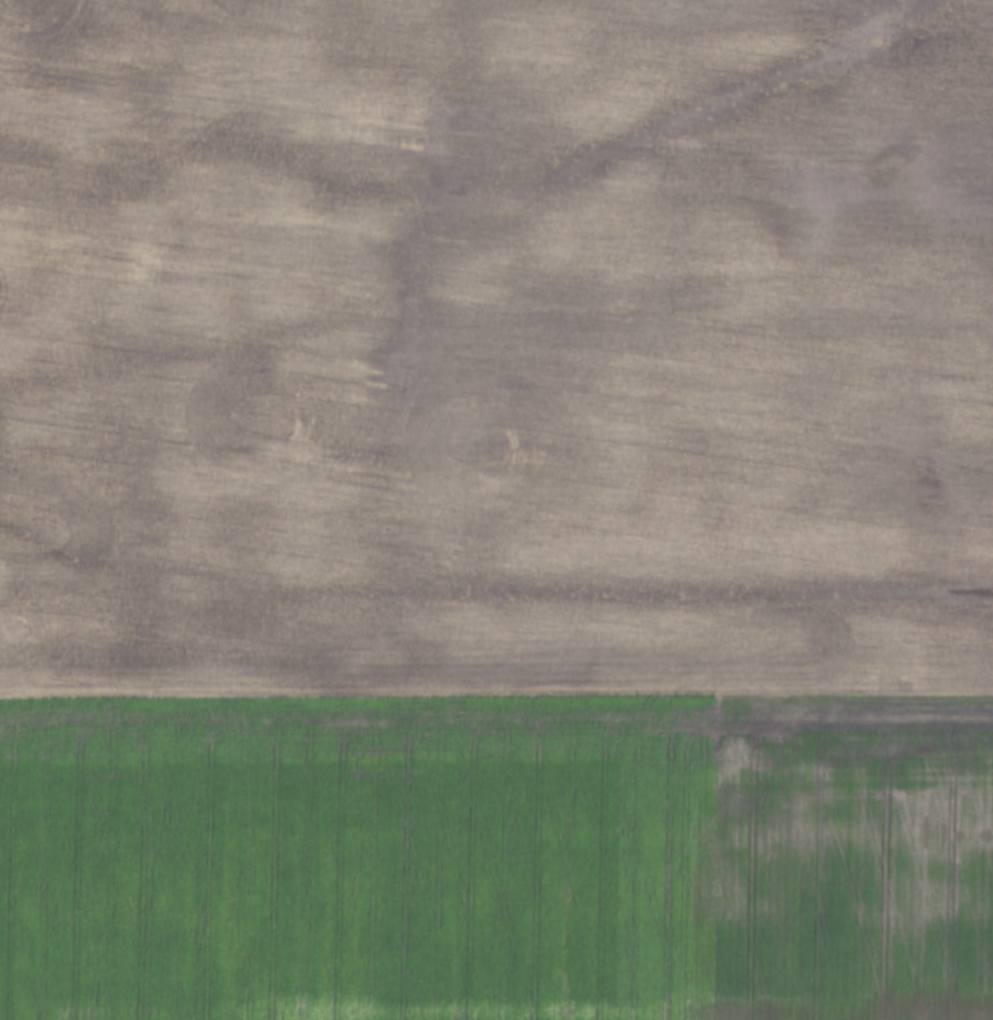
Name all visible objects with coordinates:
crop: (495, 343)
crop: (497, 853)

